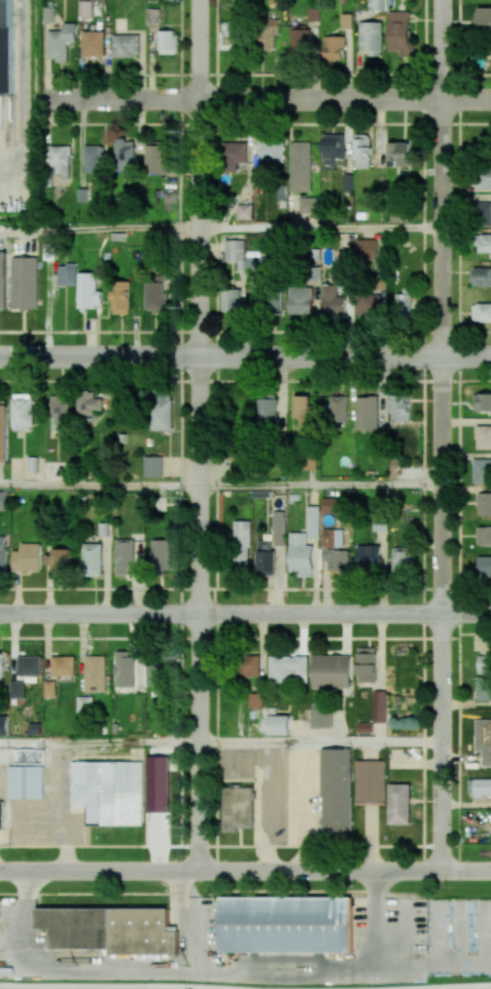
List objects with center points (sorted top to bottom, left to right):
building: (377, 5)
building: (85, 8)
building: (313, 12)
building: (48, 14)
building: (484, 21)
building: (400, 33)
building: (230, 35)
building: (267, 35)
building: (371, 38)
building: (61, 41)
building: (300, 41)
building: (167, 42)
building: (94, 43)
building: (125, 45)
building: (333, 48)
road: (265, 100)
power tower: (185, 130)
building: (332, 149)
building: (362, 150)
building: (270, 152)
building: (399, 154)
building: (125, 155)
building: (233, 155)
building: (93, 158)
building: (157, 159)
building: (61, 160)
building: (299, 166)
building: (484, 177)
building: (170, 201)
building: (308, 205)
building: (244, 211)
building: (482, 213)
road: (99, 228)
road: (319, 228)
building: (484, 243)
building: (366, 249)
building: (235, 250)
building: (254, 266)
building: (67, 274)
building: (482, 276)
building: (3, 280)
building: (24, 282)
building: (88, 290)
building: (155, 294)
building: (121, 297)
building: (231, 300)
building: (268, 300)
building: (300, 300)
building: (331, 300)
building: (367, 303)
building: (404, 303)
power tower: (184, 306)
building: (482, 312)
road: (245, 357)
building: (484, 402)
building: (87, 404)
building: (59, 407)
building: (302, 407)
building: (400, 407)
building: (338, 408)
building: (22, 411)
building: (161, 412)
building: (267, 412)
building: (367, 413)
building: (3, 433)
road: (198, 436)
road: (440, 436)
building: (483, 437)
building: (152, 466)
building: (482, 470)
road: (99, 485)
road: (319, 487)
power tower: (185, 497)
building: (3, 499)
building: (483, 503)
building: (332, 505)
building: (313, 522)
building: (279, 528)
building: (483, 535)
building: (332, 537)
building: (241, 544)
building: (2, 552)
building: (161, 554)
building: (300, 555)
building: (27, 557)
building: (124, 557)
building: (265, 558)
building: (369, 558)
building: (92, 559)
building: (401, 560)
building: (58, 561)
building: (337, 562)
building: (484, 566)
road: (245, 615)
power tower: (183, 658)
building: (484, 663)
building: (366, 664)
building: (1, 665)
building: (29, 665)
building: (63, 666)
building: (249, 666)
building: (124, 668)
building: (288, 669)
building: (331, 671)
building: (95, 673)
building: (154, 673)
building: (50, 688)
building: (483, 688)
building: (17, 689)
building: (255, 700)
building: (84, 704)
building: (379, 706)
building: (321, 714)
building: (278, 724)
building: (4, 725)
building: (483, 740)
road: (98, 742)
road: (318, 742)
building: (12, 756)
building: (370, 781)
building: (26, 782)
building: (157, 784)
building: (479, 788)
building: (336, 789)
building: (108, 791)
building: (399, 804)
building: (237, 808)
building: (1, 814)
power tower: (184, 826)
road: (245, 872)
building: (286, 924)
building: (110, 929)
power tower: (188, 964)
power tower: (77, 965)
road: (133, 985)
road: (473, 987)
road: (417, 988)

